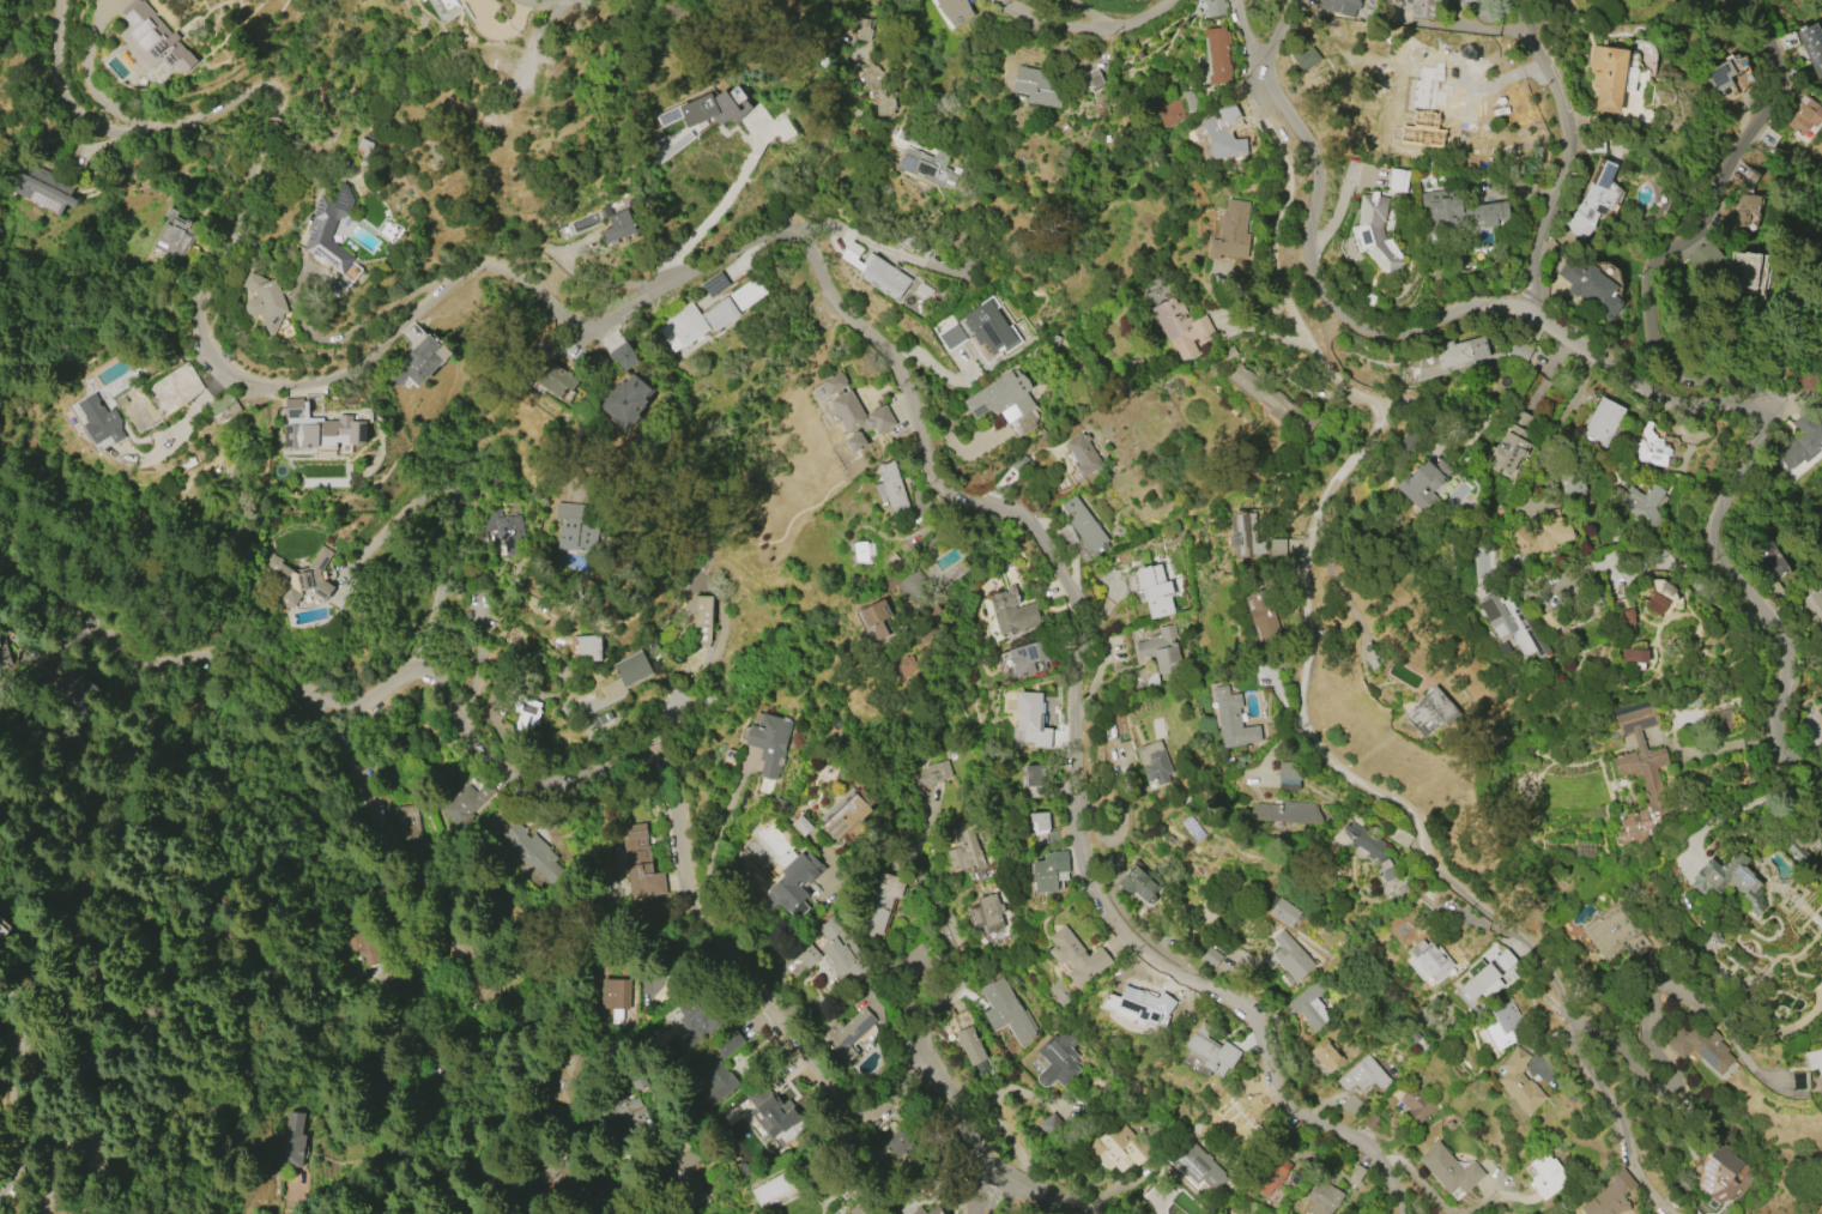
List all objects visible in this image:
road: (562, 2)
building: (1463, 4)
road: (1035, 5)
building: (1339, 6)
building: (1213, 7)
building: (1421, 7)
building: (954, 11)
building: (478, 20)
road: (1091, 25)
road: (1482, 28)
building: (861, 30)
road: (1255, 38)
building: (153, 41)
building: (1811, 47)
building: (1216, 54)
building: (1339, 66)
building: (1608, 76)
building: (1724, 76)
building: (1091, 78)
building: (1039, 85)
building: (878, 87)
building: (1188, 99)
building: (708, 108)
building: (1169, 113)
building: (1802, 115)
building: (488, 116)
building: (1420, 125)
road: (1558, 155)
building: (927, 167)
building: (1397, 180)
building: (41, 187)
building: (1596, 193)
road: (721, 204)
building: (1457, 211)
building: (1745, 213)
building: (618, 227)
building: (328, 230)
building: (1230, 232)
building: (1374, 234)
building: (174, 238)
road: (1690, 238)
road: (797, 243)
road: (876, 244)
building: (1725, 266)
building: (877, 270)
building: (1590, 288)
building: (746, 294)
building: (1155, 296)
building: (264, 302)
building: (698, 320)
road: (370, 324)
building: (1180, 326)
building: (980, 332)
road: (1569, 342)
building: (549, 345)
building: (1518, 351)
building: (623, 356)
building: (1446, 358)
building: (417, 362)
building: (1810, 368)
building: (557, 380)
building: (1000, 398)
building: (1271, 399)
building: (624, 401)
building: (220, 403)
road: (592, 407)
building: (851, 411)
road: (1679, 418)
building: (99, 419)
road: (187, 422)
building: (1602, 422)
building: (319, 428)
building: (1803, 441)
building: (1511, 442)
building: (1650, 447)
building: (1083, 454)
building: (1422, 483)
building: (1572, 484)
building: (891, 488)
building: (1636, 503)
building: (1083, 525)
building: (577, 526)
building: (1243, 533)
building: (1542, 533)
building: (509, 534)
building: (862, 552)
road: (1671, 558)
building: (1770, 558)
building: (299, 576)
building: (1155, 590)
building: (1659, 597)
building: (1812, 603)
building: (1011, 612)
building: (700, 617)
building: (1264, 617)
building: (878, 620)
building: (1626, 620)
building: (1513, 623)
building: (588, 646)
building: (1162, 648)
building: (1029, 658)
building: (1632, 659)
road: (479, 666)
building: (906, 668)
building: (626, 675)
road: (1303, 688)
road: (149, 700)
road: (670, 705)
building: (1430, 712)
building: (525, 715)
building: (604, 717)
building: (1030, 719)
building: (1231, 719)
building: (1723, 720)
building: (769, 742)
building: (1154, 762)
building: (1640, 771)
building: (1288, 773)
building: (932, 774)
building: (1033, 775)
building: (464, 803)
road: (373, 807)
building: (1284, 811)
building: (845, 813)
building: (404, 822)
building: (1039, 822)
building: (1399, 836)
building: (1357, 838)
building: (1793, 846)
building: (963, 847)
building: (532, 851)
road: (865, 862)
building: (640, 864)
building: (1387, 869)
building: (1049, 871)
building: (1729, 880)
building: (792, 882)
building: (1137, 882)
road: (707, 900)
building: (879, 904)
building: (1282, 911)
building: (987, 913)
building: (357, 934)
building: (1615, 934)
building: (841, 952)
building: (806, 955)
building: (1076, 956)
building: (1289, 956)
building: (1430, 959)
road: (958, 960)
building: (1503, 960)
building: (471, 965)
building: (1479, 979)
building: (1127, 989)
building: (615, 993)
building: (1060, 993)
building: (1309, 1004)
building: (1006, 1011)
building: (695, 1021)
building: (1501, 1025)
building: (853, 1029)
road: (1646, 1033)
building: (969, 1045)
building: (1210, 1050)
building: (1702, 1050)
building: (1326, 1055)
building: (75, 1059)
building: (1057, 1059)
building: (1815, 1062)
building: (382, 1065)
building: (715, 1067)
building: (1361, 1076)
building: (1519, 1079)
building: (1798, 1080)
building: (1415, 1104)
building: (629, 1112)
road: (26, 1113)
building: (776, 1116)
building: (1370, 1121)
building: (1233, 1124)
building: (1049, 1125)
building: (1281, 1134)
building: (290, 1141)
building: (1114, 1144)
building: (901, 1147)
building: (92, 1150)
building: (1197, 1166)
road: (16, 1168)
building: (1448, 1170)
building: (1270, 1171)
building: (1718, 1172)
building: (1355, 1173)
building: (1545, 1174)
building: (679, 1180)
road: (989, 1188)
building: (1610, 1196)
building: (1322, 1198)
building: (930, 1212)
building: (913, 1213)

